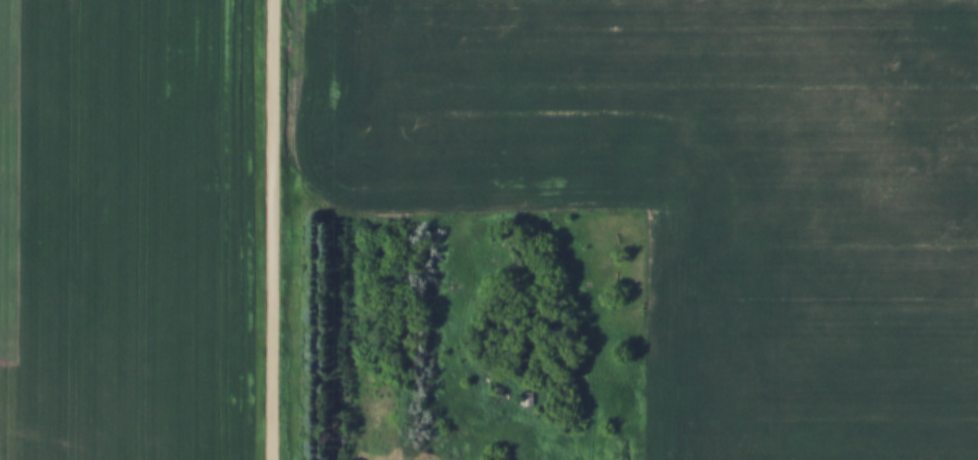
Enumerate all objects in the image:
road: (271, 230)
building: (497, 455)

